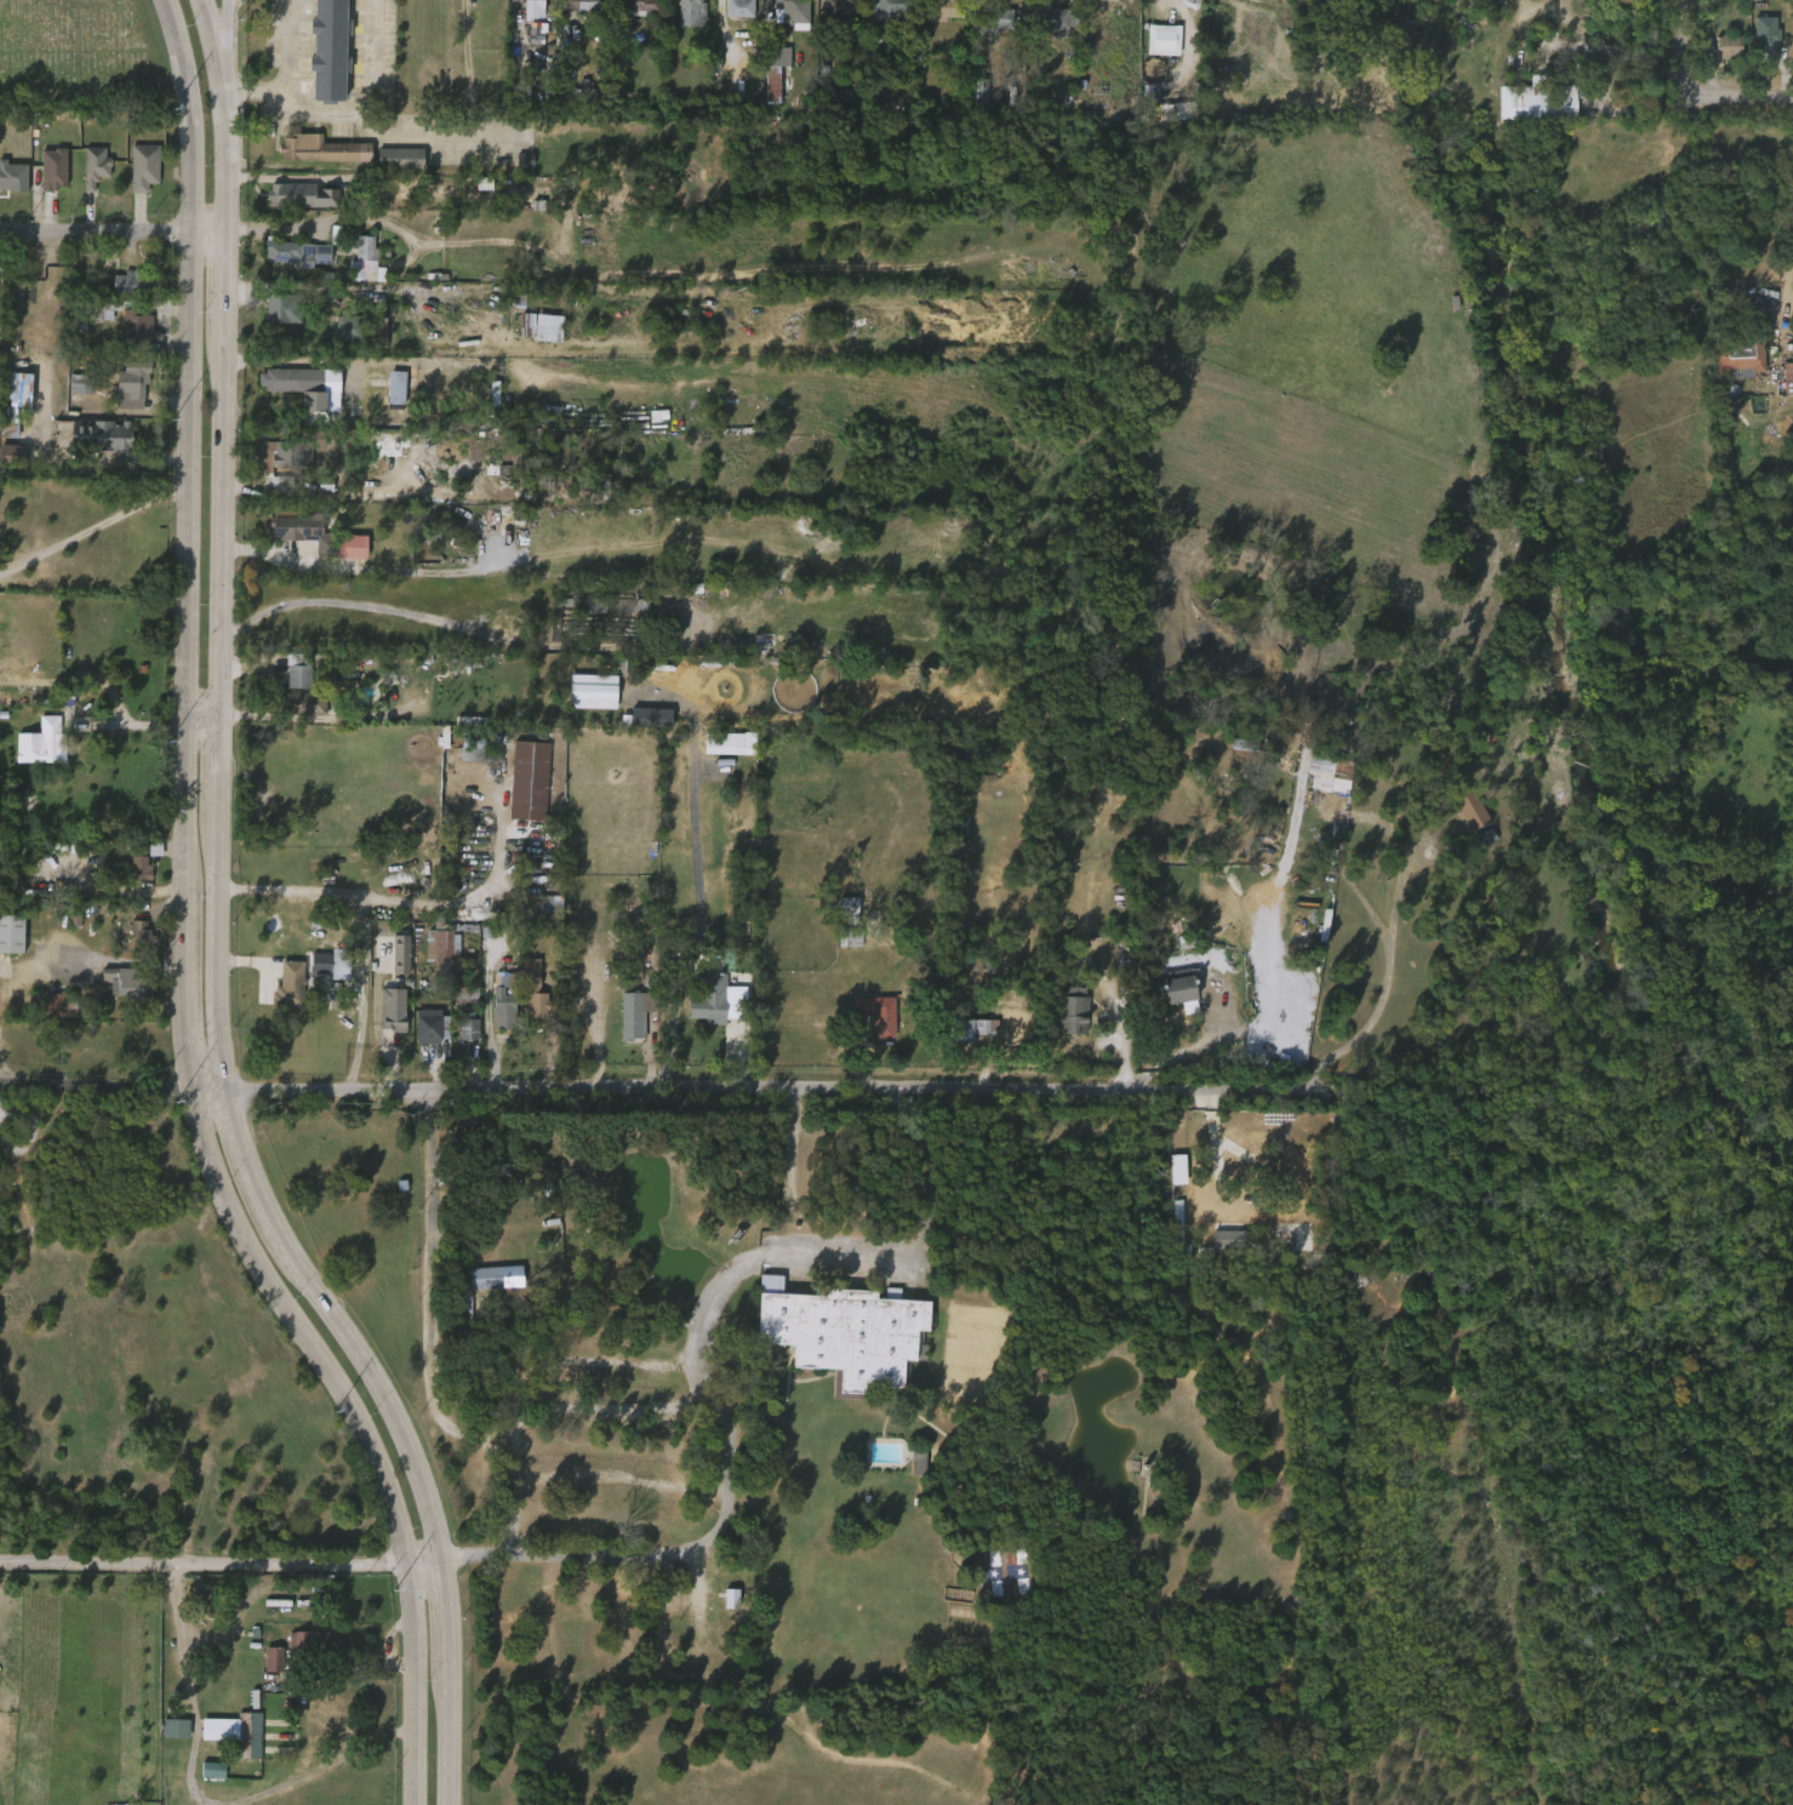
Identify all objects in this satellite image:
building: (581, 5)
building: (641, 5)
building: (740, 7)
building: (839, 7)
building: (533, 8)
building: (891, 10)
building: (946, 10)
building: (630, 11)
building: (793, 11)
building: (693, 12)
building: (730, 16)
building: (829, 16)
building: (683, 19)
building: (932, 19)
building: (992, 19)
building: (1051, 19)
building: (982, 29)
building: (1041, 30)
road: (211, 36)
road: (227, 38)
road: (1688, 44)
building: (1755, 44)
building: (1726, 46)
building: (332, 50)
building: (1154, 50)
park: (59, 53)
building: (1719, 57)
building: (775, 72)
road: (285, 73)
building: (1591, 78)
building: (766, 82)
building: (977, 98)
building: (1553, 103)
road: (1736, 104)
road: (360, 110)
building: (1089, 110)
road: (432, 136)
building: (322, 149)
road: (225, 154)
building: (404, 159)
building: (313, 160)
building: (95, 166)
building: (143, 166)
building: (390, 168)
building: (86, 177)
building: (45, 179)
building: (8, 187)
building: (285, 194)
building: (298, 206)
road: (112, 234)
building: (354, 241)
building: (296, 253)
building: (356, 258)
building: (290, 264)
building: (133, 281)
road: (364, 289)
building: (122, 291)
road: (223, 293)
building: (285, 308)
building: (95, 310)
building: (272, 319)
building: (543, 325)
building: (348, 327)
building: (136, 329)
building: (338, 337)
building: (532, 337)
building: (371, 341)
building: (1738, 354)
building: (1788, 377)
building: (292, 379)
building: (86, 383)
building: (132, 385)
building: (289, 395)
building: (388, 398)
building: (99, 436)
building: (290, 452)
building: (11, 456)
building: (553, 456)
building: (279, 465)
building: (516, 467)
building: (575, 481)
road: (93, 526)
building: (303, 531)
road: (223, 533)
building: (293, 543)
building: (603, 605)
road: (504, 607)
road: (410, 612)
building: (606, 616)
building: (298, 672)
building: (290, 682)
building: (583, 701)
building: (304, 704)
road: (204, 715)
building: (45, 743)
building: (725, 743)
building: (472, 750)
building: (713, 754)
road: (185, 767)
road: (221, 777)
building: (531, 781)
building: (1461, 819)
building: (1477, 846)
building: (144, 858)
road: (697, 874)
building: (131, 878)
road: (365, 897)
building: (550, 907)
building: (541, 915)
building: (13, 933)
building: (139, 937)
building: (438, 952)
road: (76, 960)
road: (221, 963)
building: (339, 963)
building: (393, 964)
building: (312, 973)
building: (332, 973)
building: (126, 982)
building: (290, 984)
building: (1175, 986)
building: (533, 989)
building: (503, 994)
building: (719, 999)
building: (525, 1000)
building: (57, 1004)
building: (457, 1004)
building: (1072, 1010)
building: (390, 1013)
building: (879, 1013)
building: (495, 1015)
building: (869, 1023)
building: (432, 1024)
road: (487, 1024)
building: (636, 1026)
building: (970, 1029)
building: (468, 1030)
building: (461, 1040)
road: (1123, 1047)
road: (1190, 1053)
road: (4, 1070)
road: (684, 1087)
road: (245, 1160)
building: (499, 1164)
building: (1229, 1240)
building: (1217, 1249)
building: (489, 1278)
building: (846, 1333)
road: (381, 1386)
road: (435, 1409)
road: (729, 1439)
building: (912, 1472)
road: (516, 1489)
road: (222, 1567)
building: (723, 1606)
road: (450, 1620)
building: (313, 1644)
road: (413, 1645)
building: (272, 1657)
building: (265, 1669)
building: (234, 1732)
building: (167, 1737)
road: (452, 1742)
building: (205, 1778)

